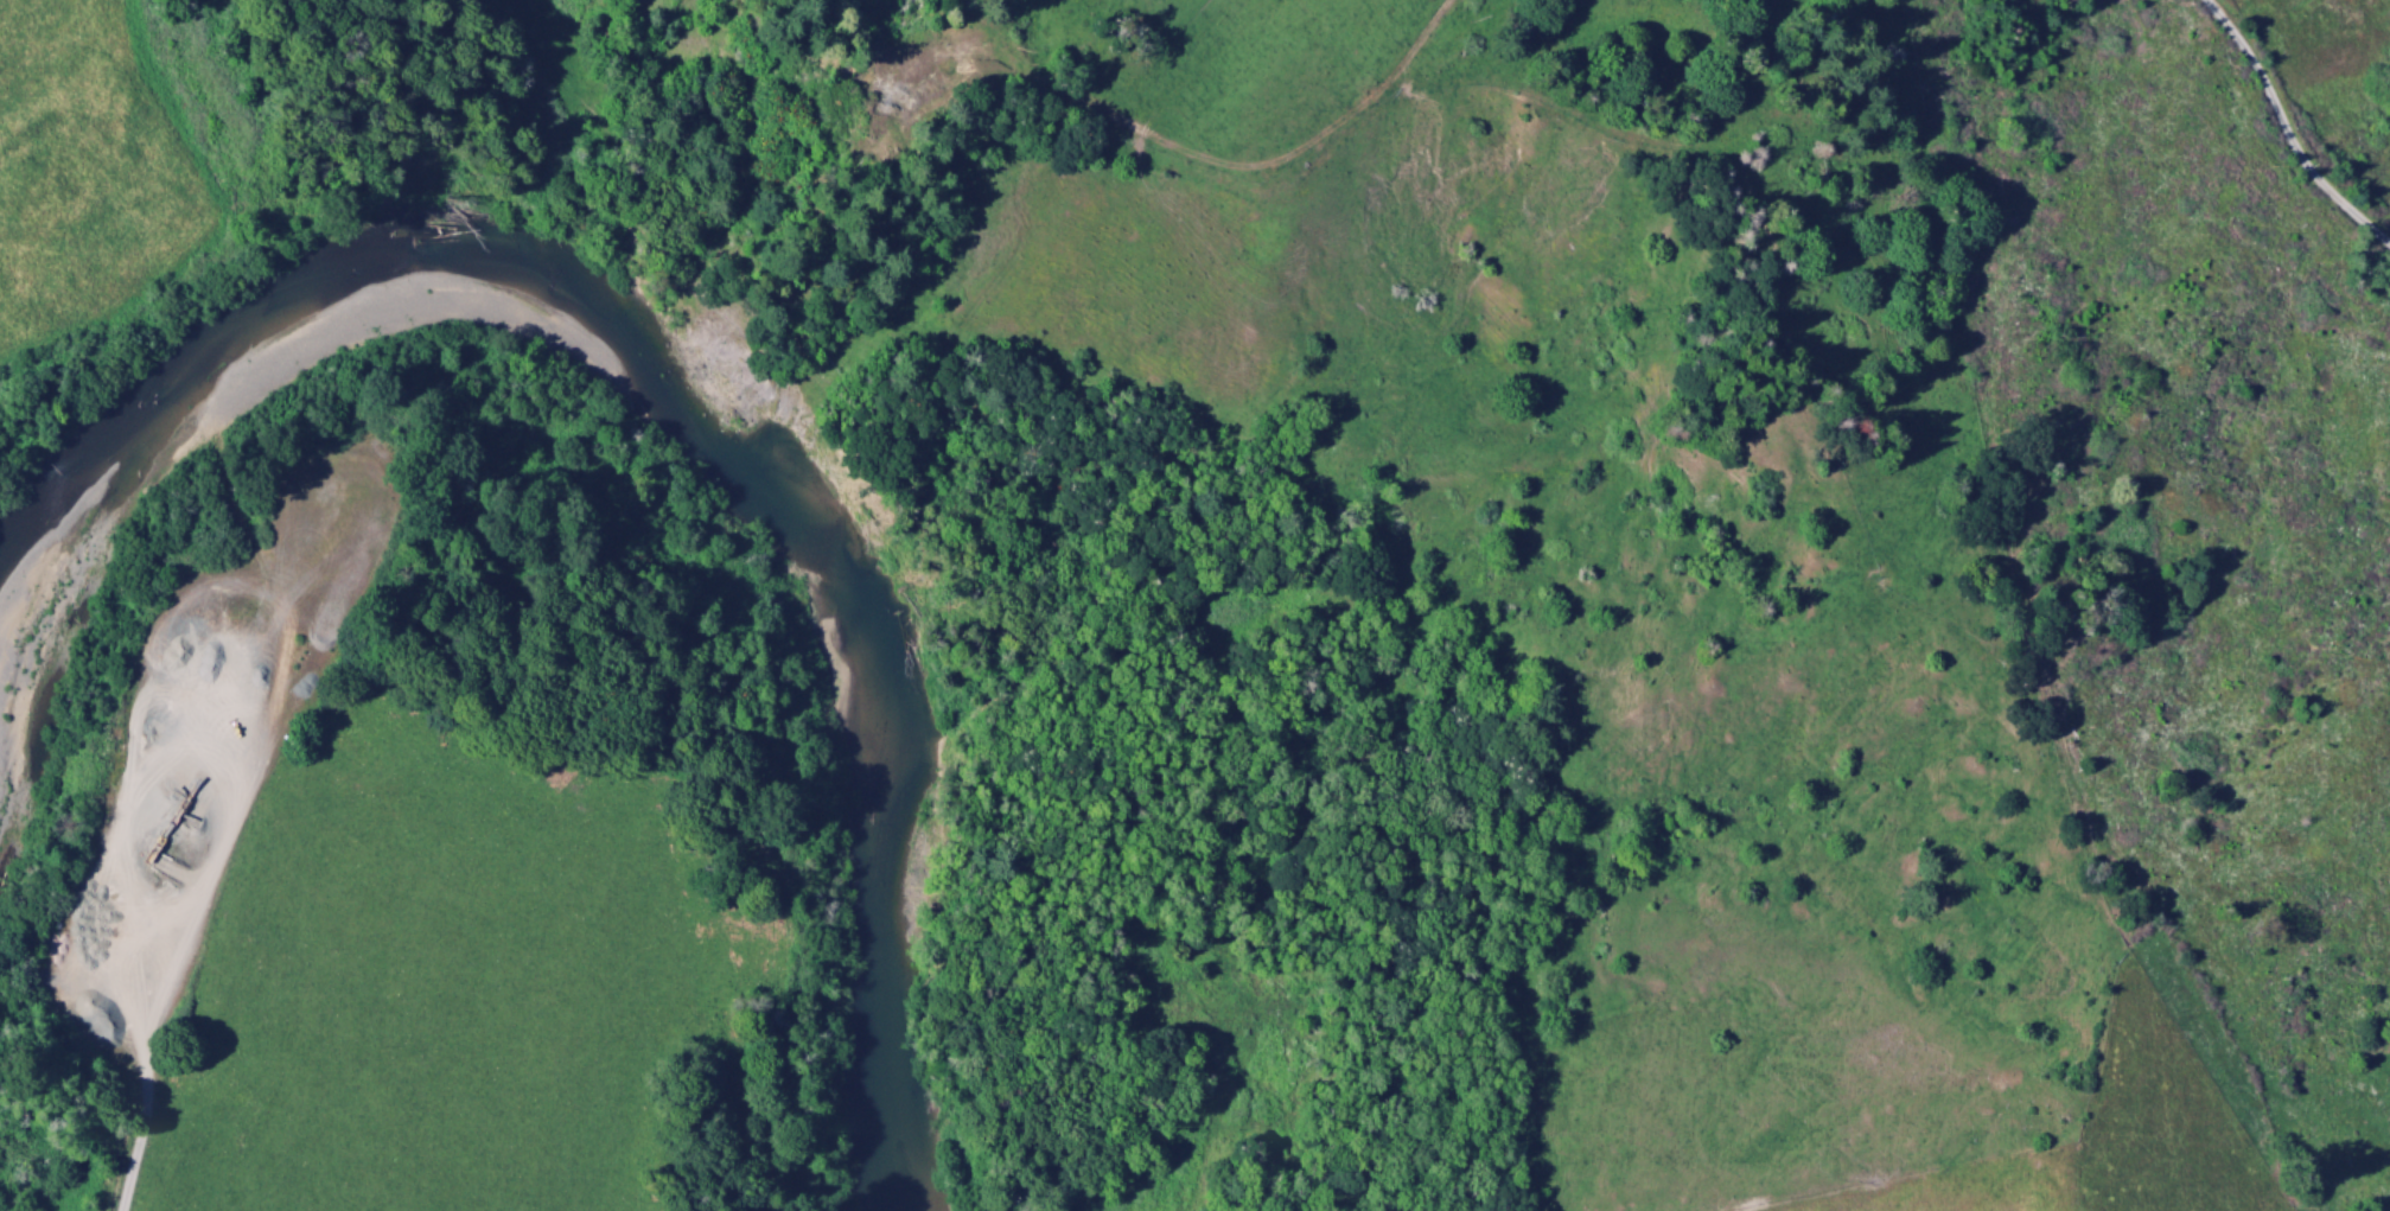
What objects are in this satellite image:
road: (2282, 142)
road: (1225, 164)
river: (671, 402)
road: (219, 868)

